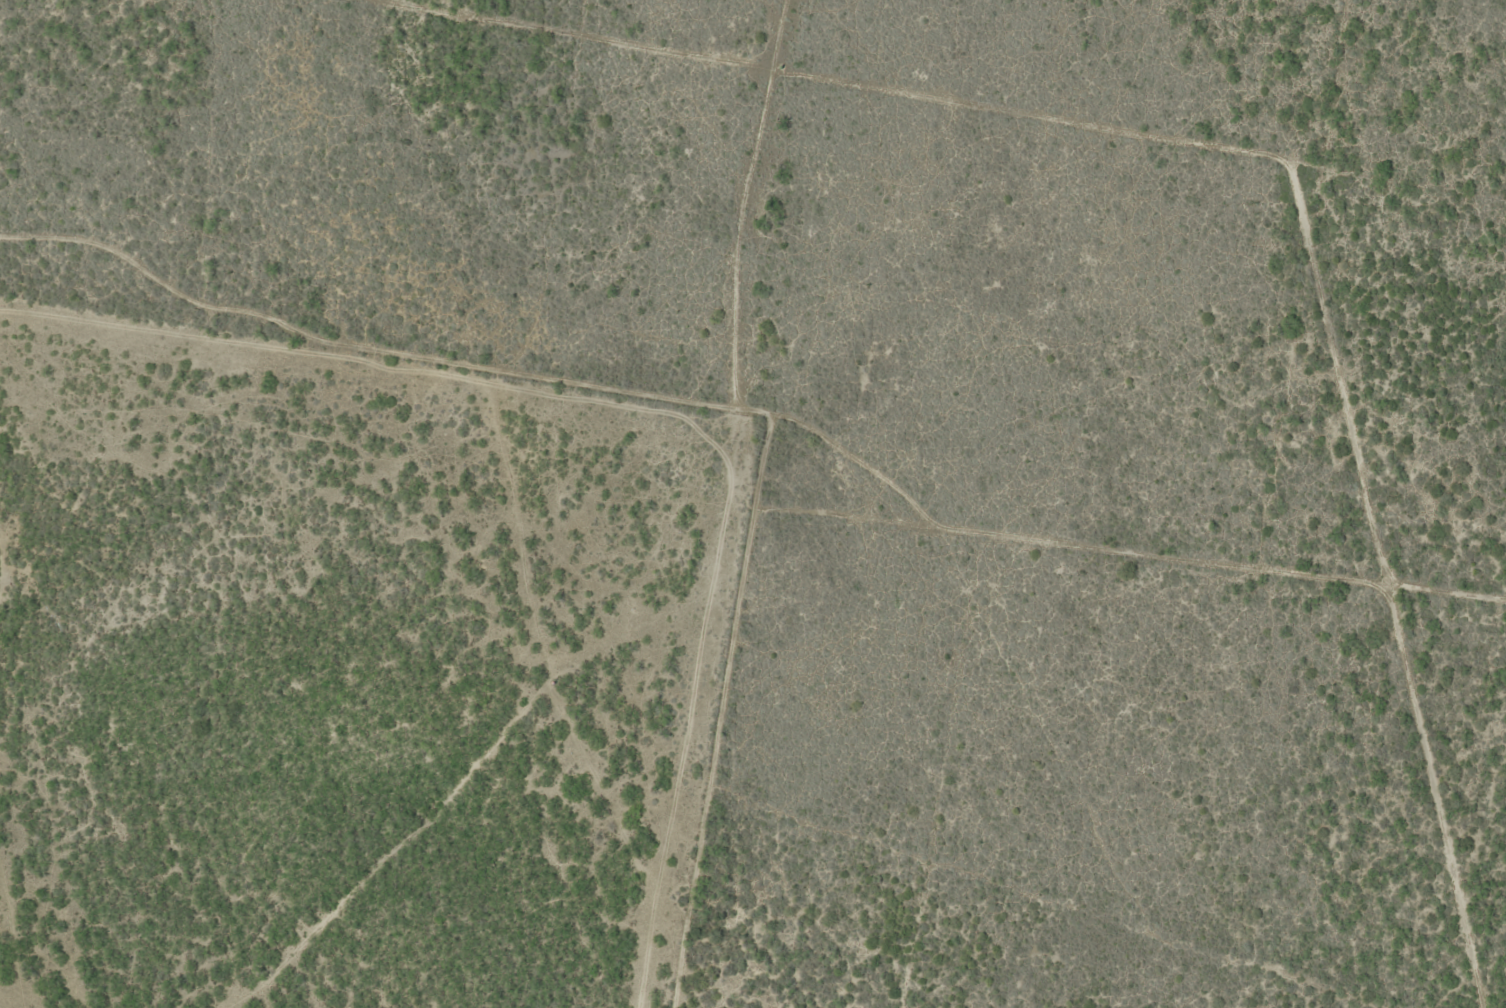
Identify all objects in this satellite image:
road: (1048, 746)

